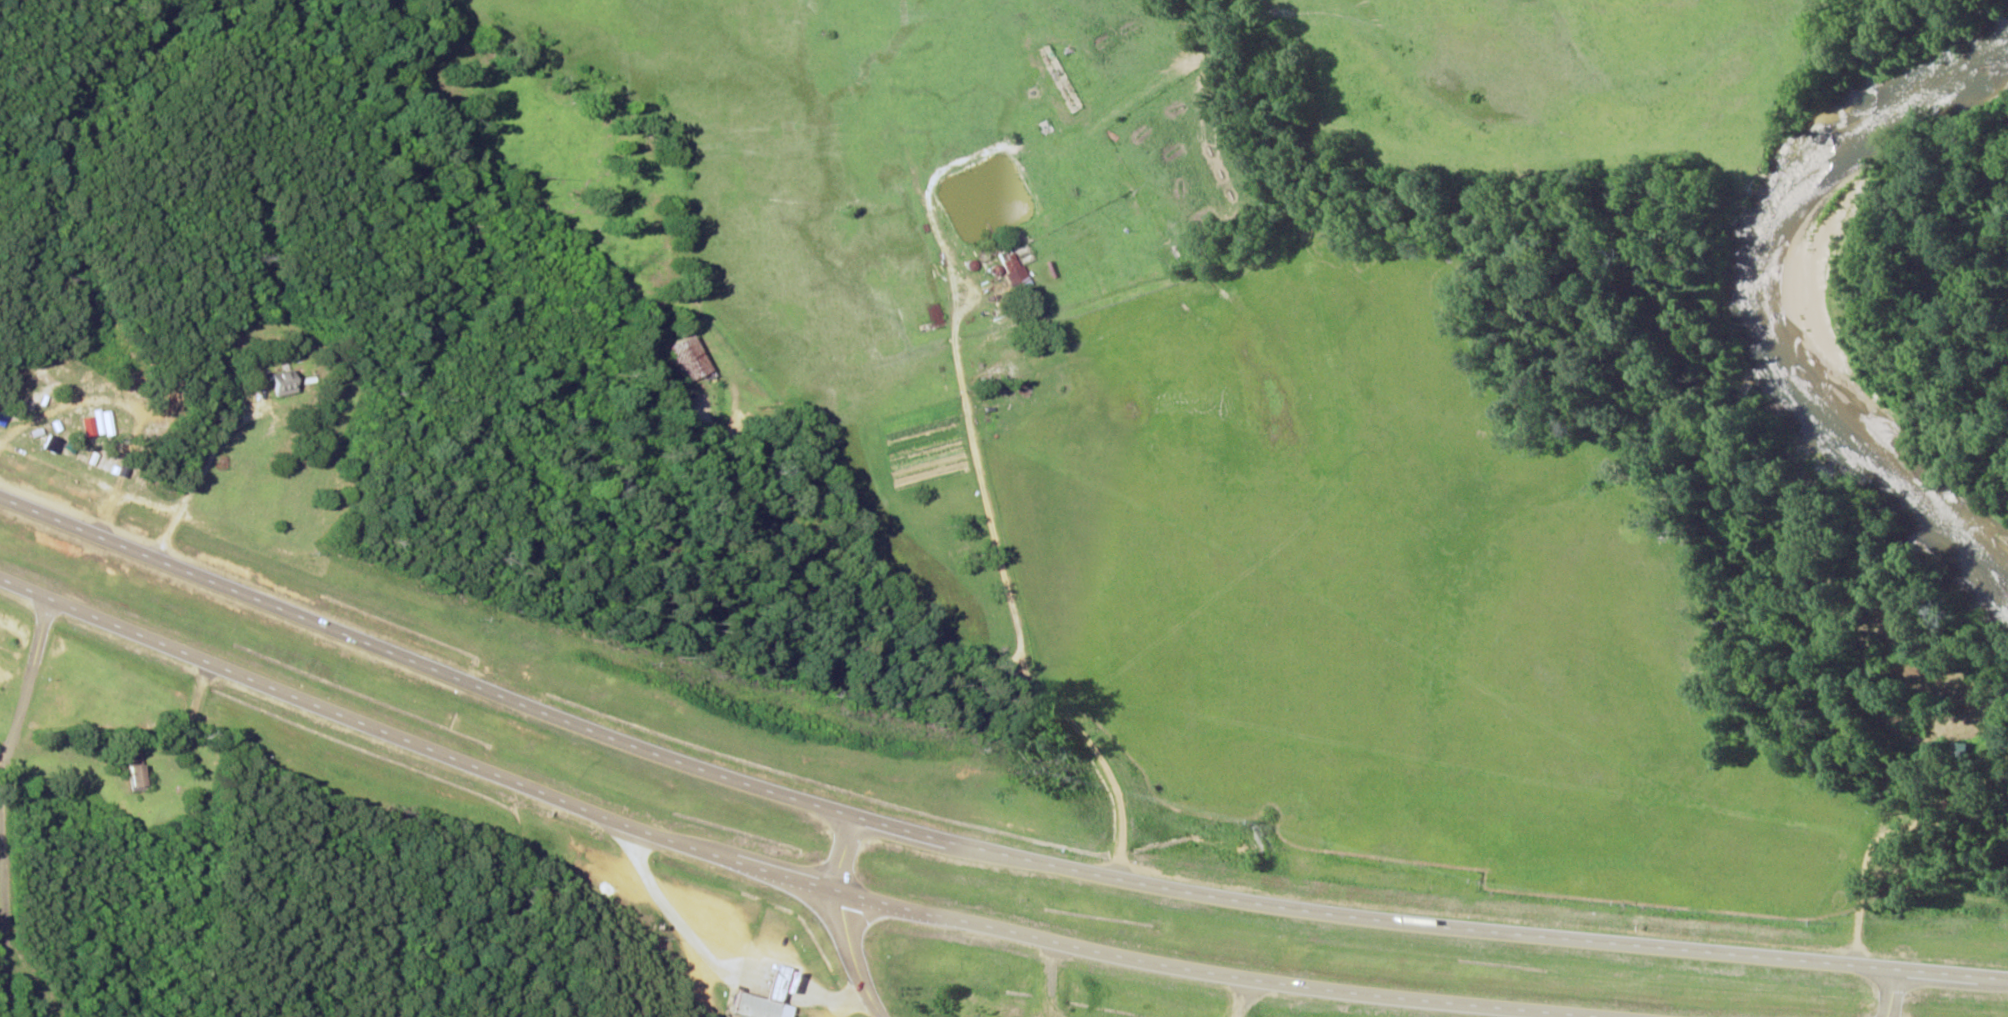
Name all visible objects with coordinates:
building: (1016, 268)
road: (1114, 345)
building: (696, 358)
building: (286, 384)
building: (34, 405)
road: (1036, 680)
building: (141, 777)
road: (5, 804)
road: (977, 846)
road: (779, 870)
road: (848, 919)
road: (1893, 993)
building: (777, 998)

